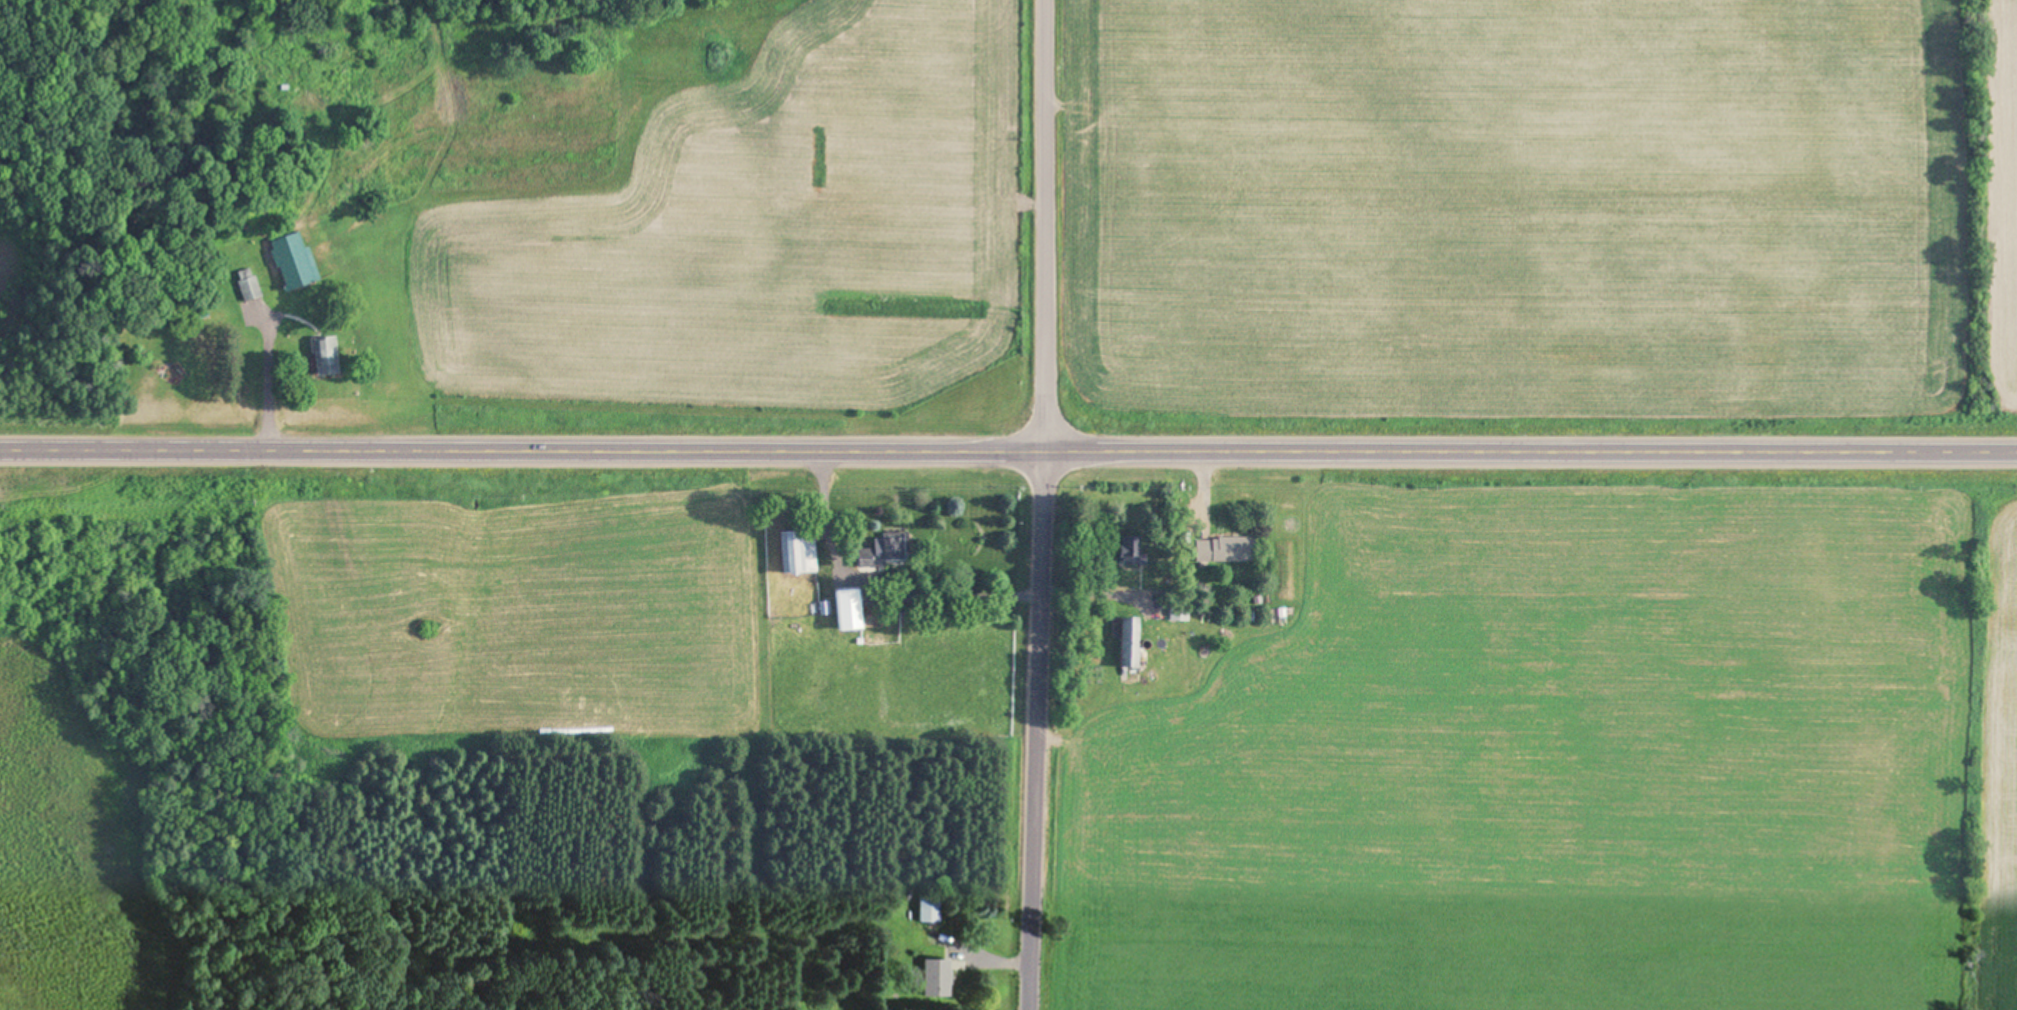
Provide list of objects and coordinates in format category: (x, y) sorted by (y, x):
crop: (1538, 220)
building: (296, 261)
building: (250, 284)
building: (328, 356)
road: (1008, 466)
road: (1041, 505)
building: (891, 550)
building: (1228, 550)
building: (1134, 551)
building: (799, 554)
building: (851, 611)
building: (1132, 642)
building: (930, 909)
building: (937, 978)

